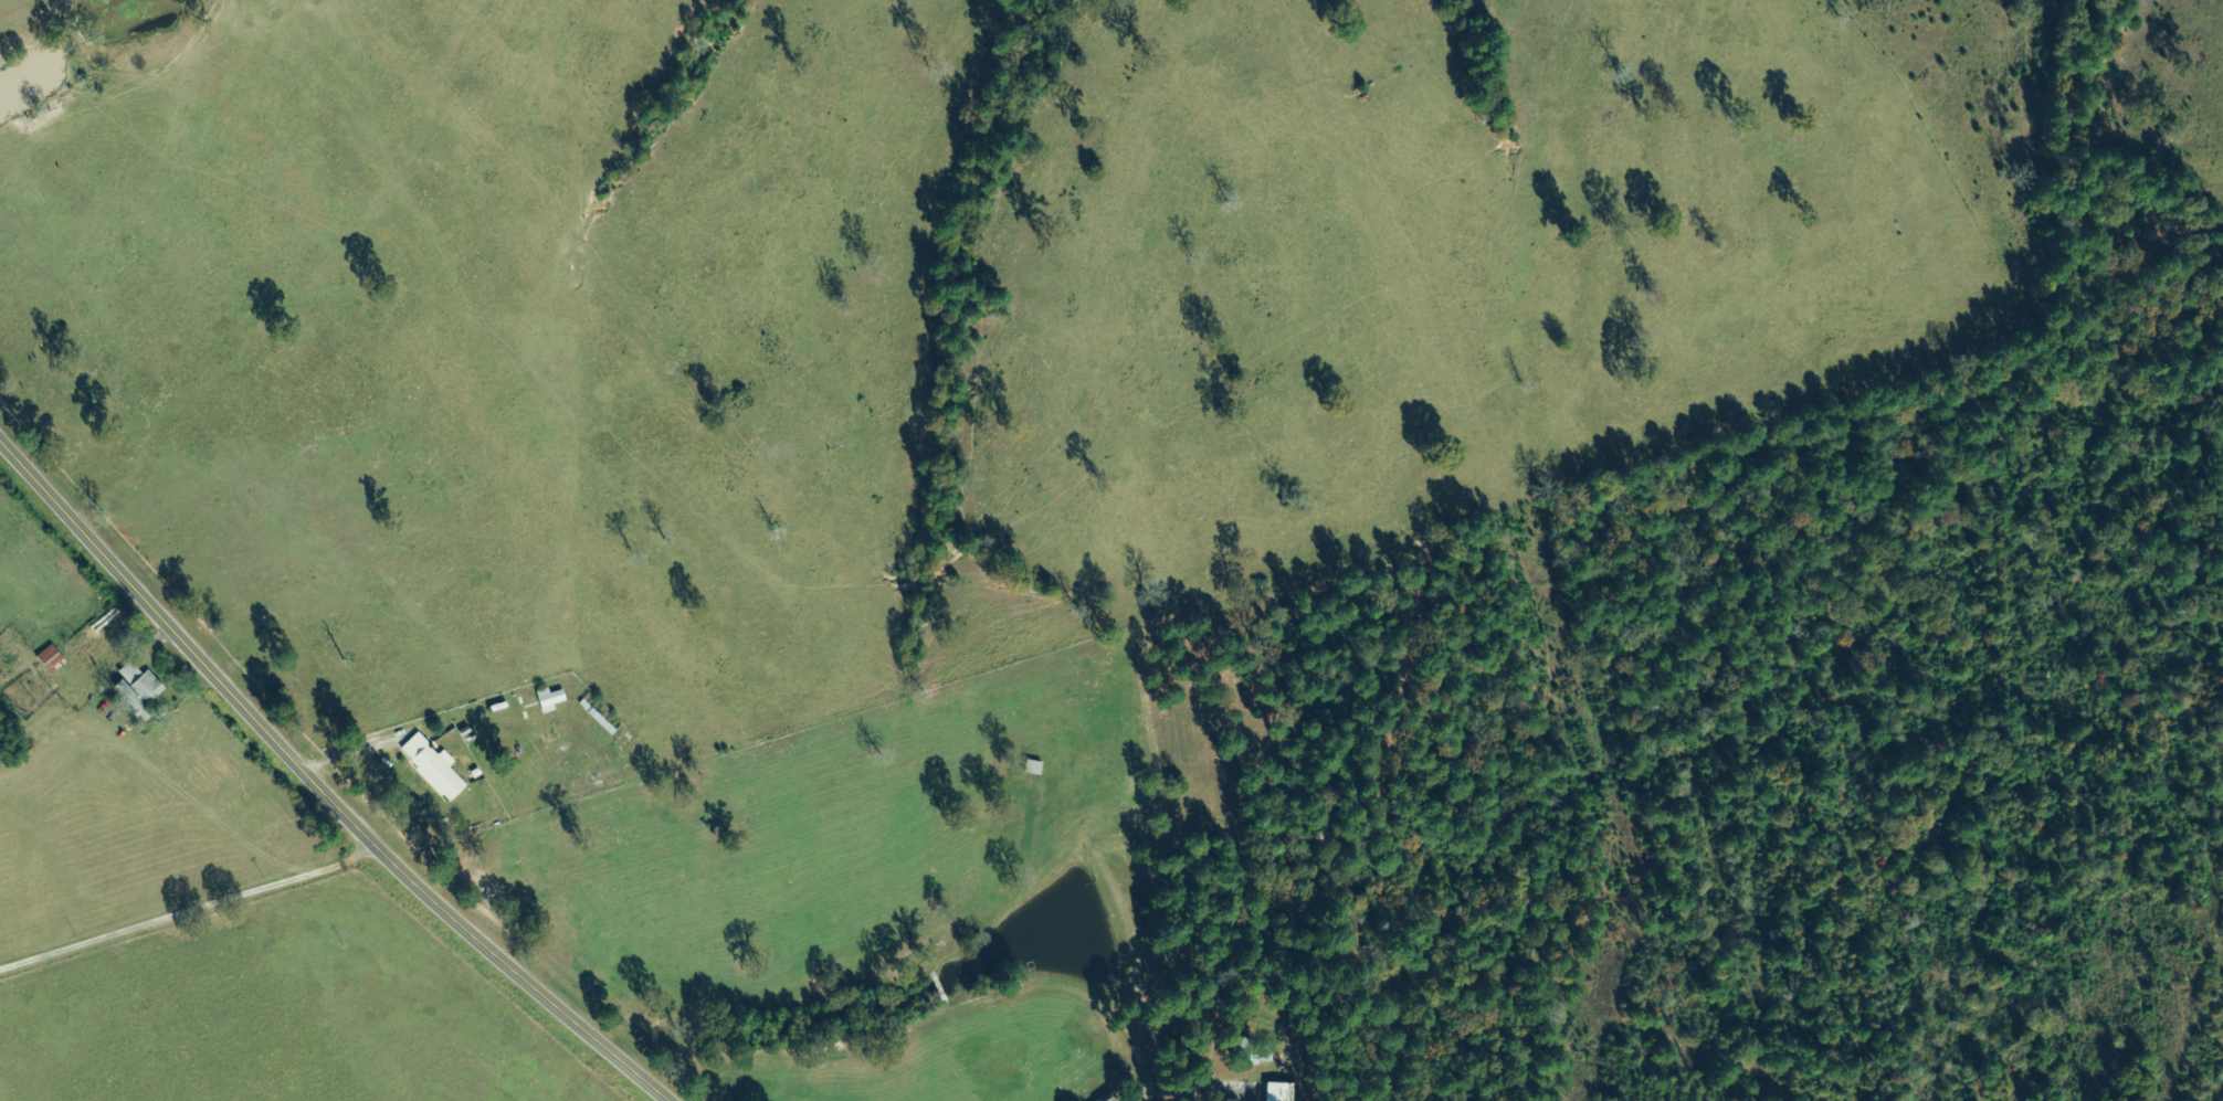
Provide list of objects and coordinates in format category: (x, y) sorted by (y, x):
building: (50, 659)
building: (139, 689)
building: (550, 700)
building: (434, 767)
road: (317, 787)
road: (196, 915)
building: (1281, 1092)

